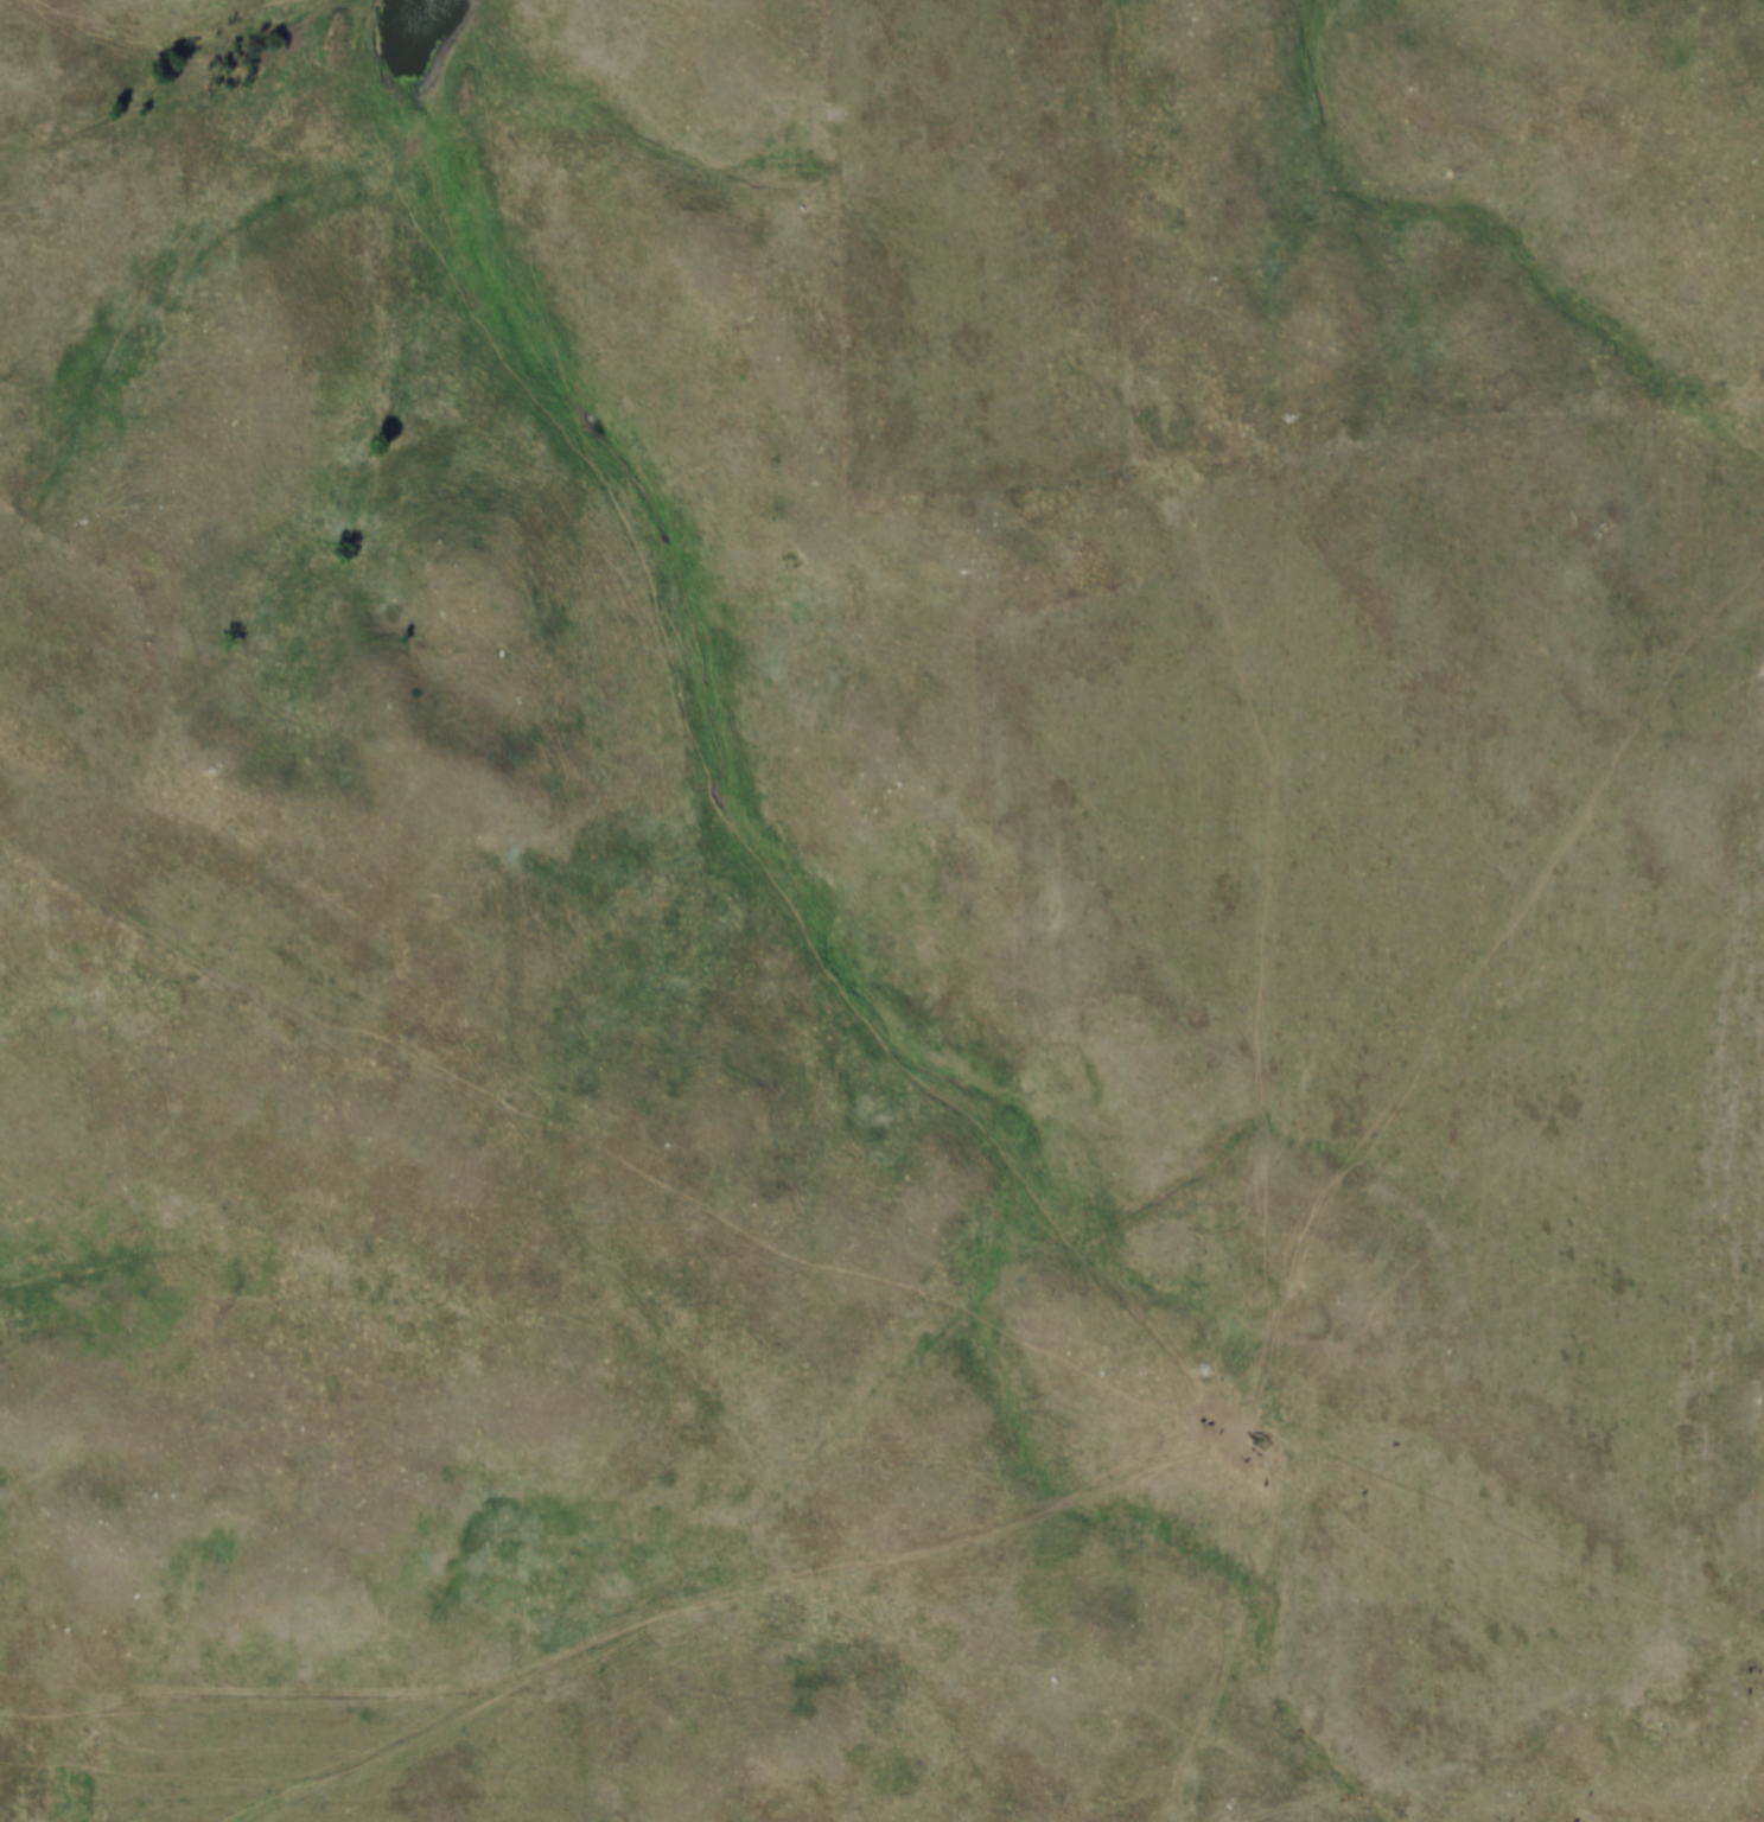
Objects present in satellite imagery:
road: (854, 1626)
road: (1311, 1813)

